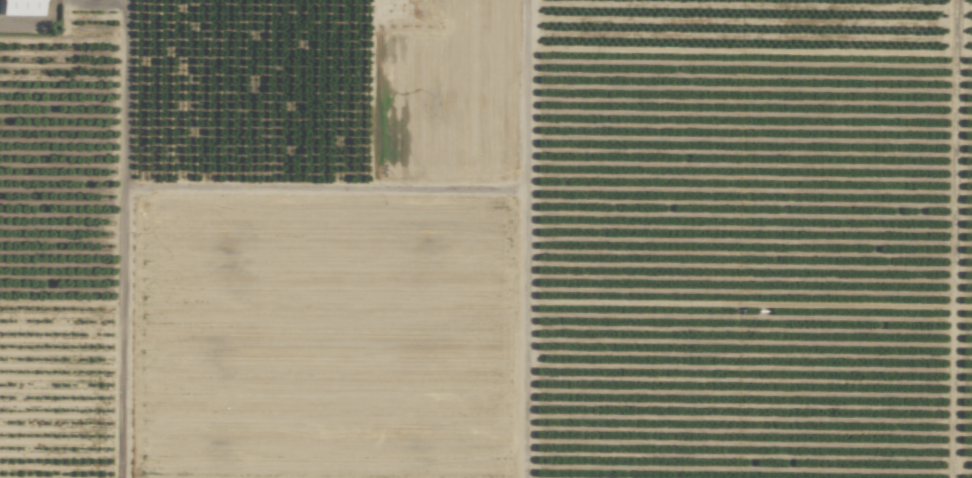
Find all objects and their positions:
building: (20, 7)
road: (33, 24)

